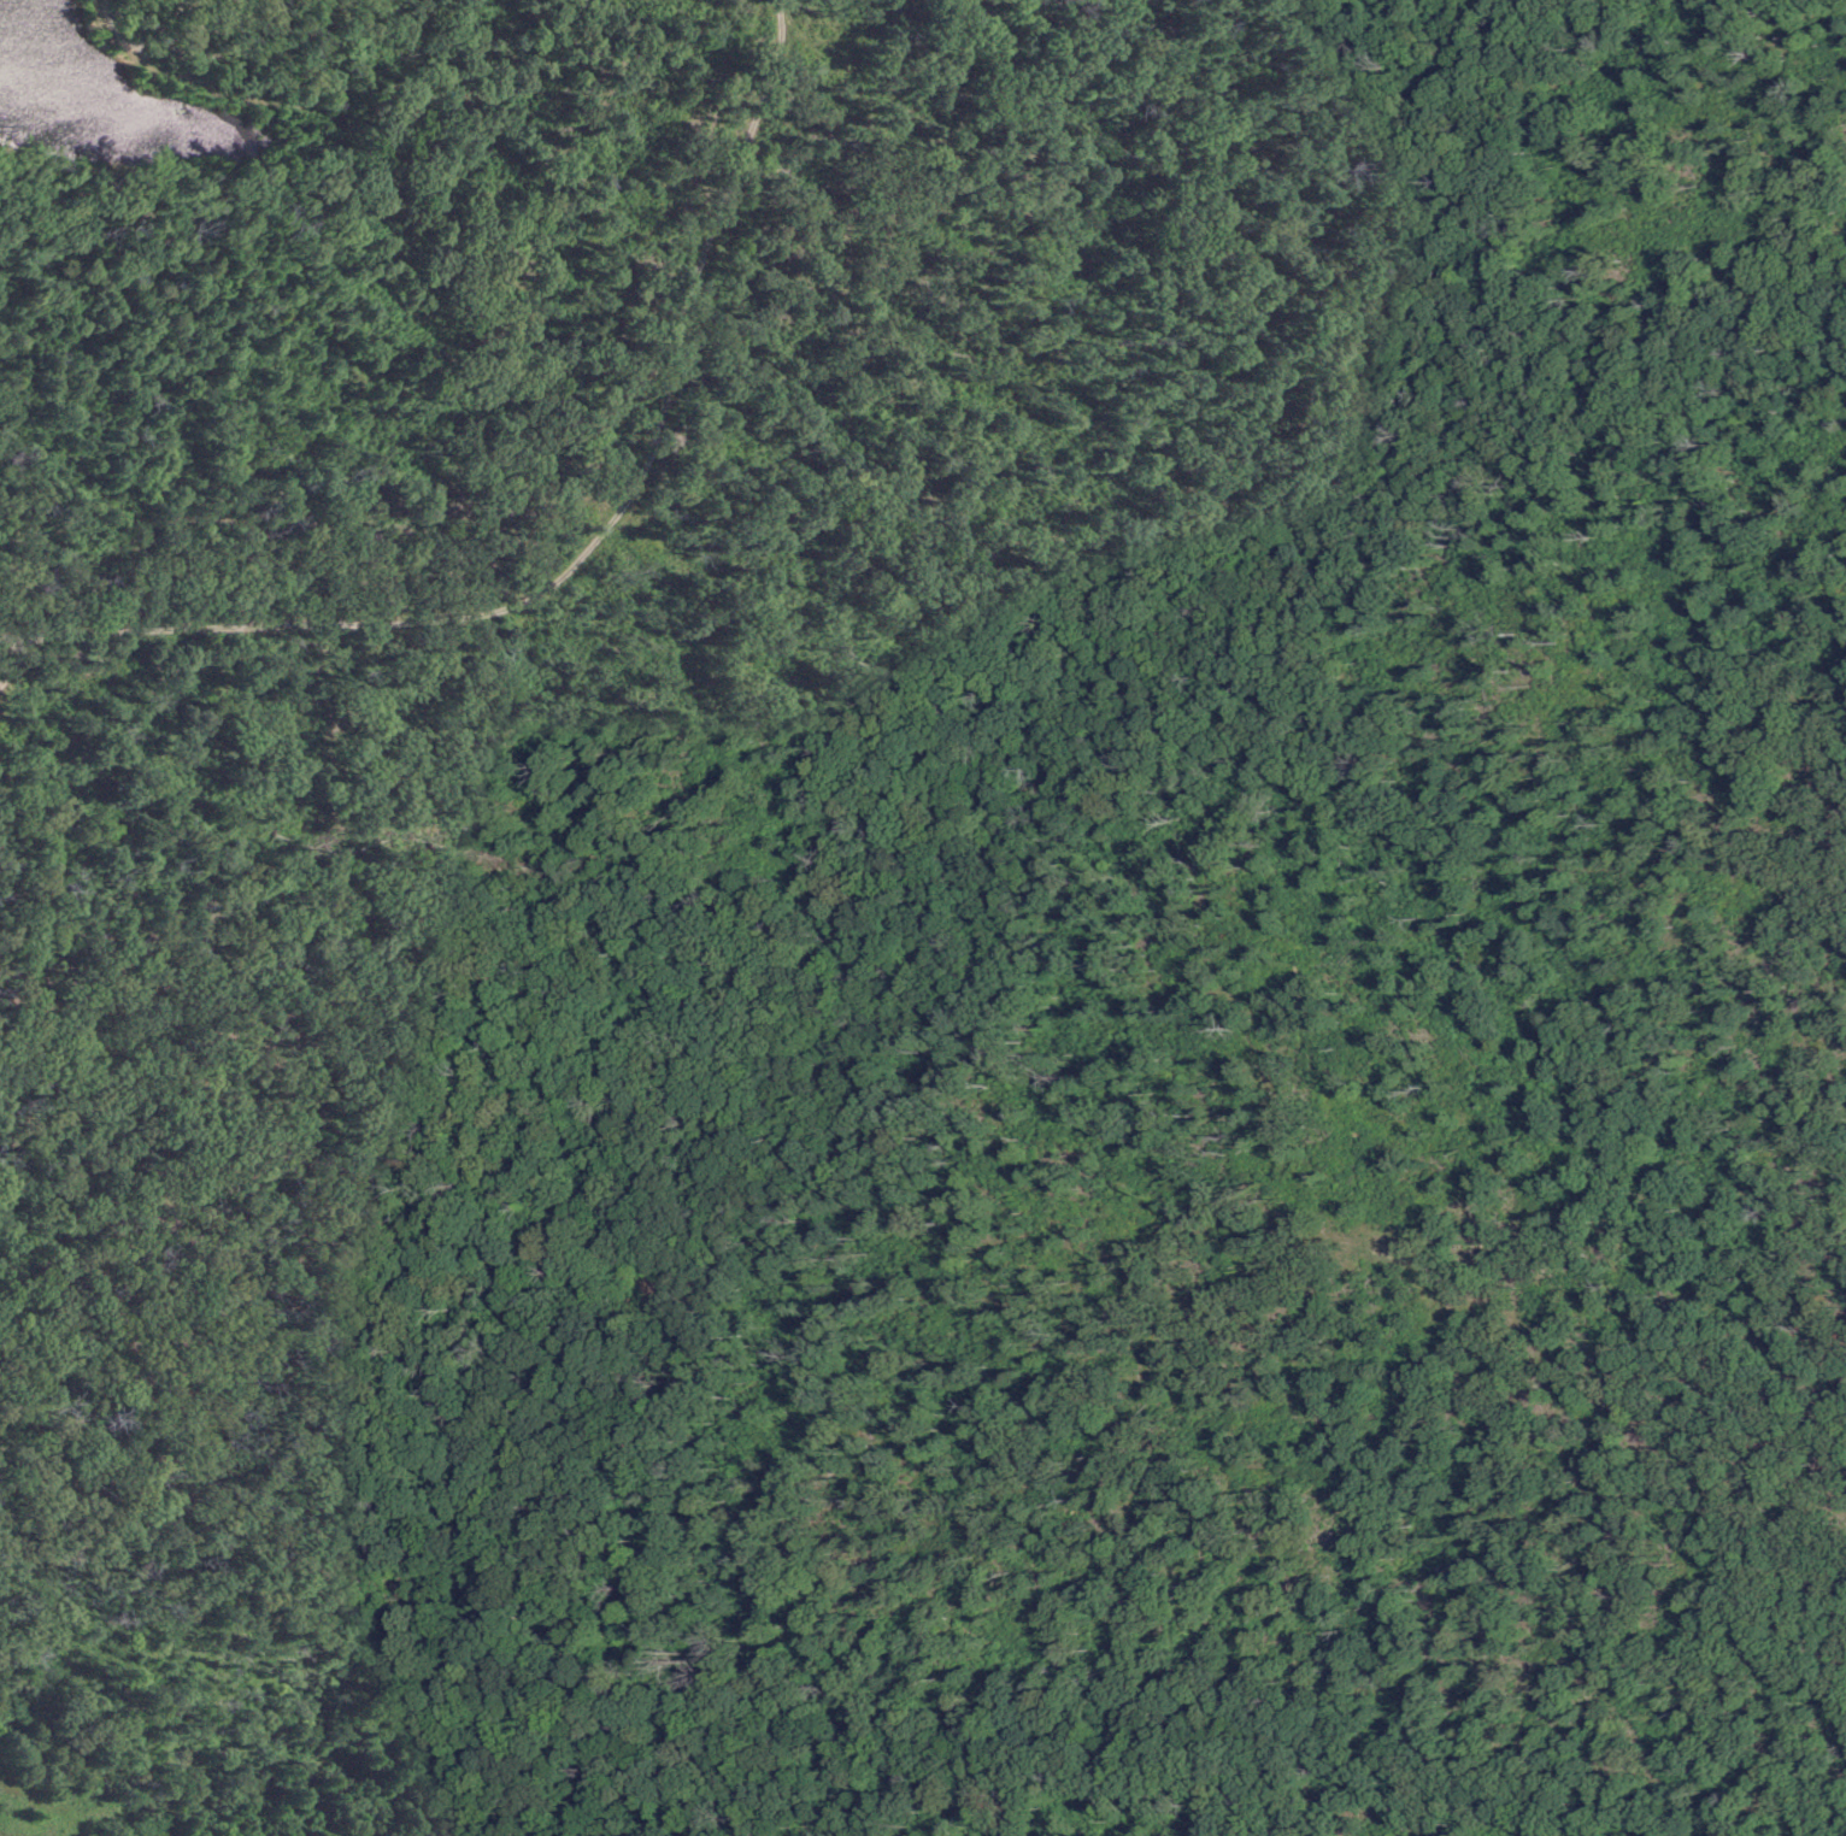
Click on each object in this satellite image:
road: (586, 561)

